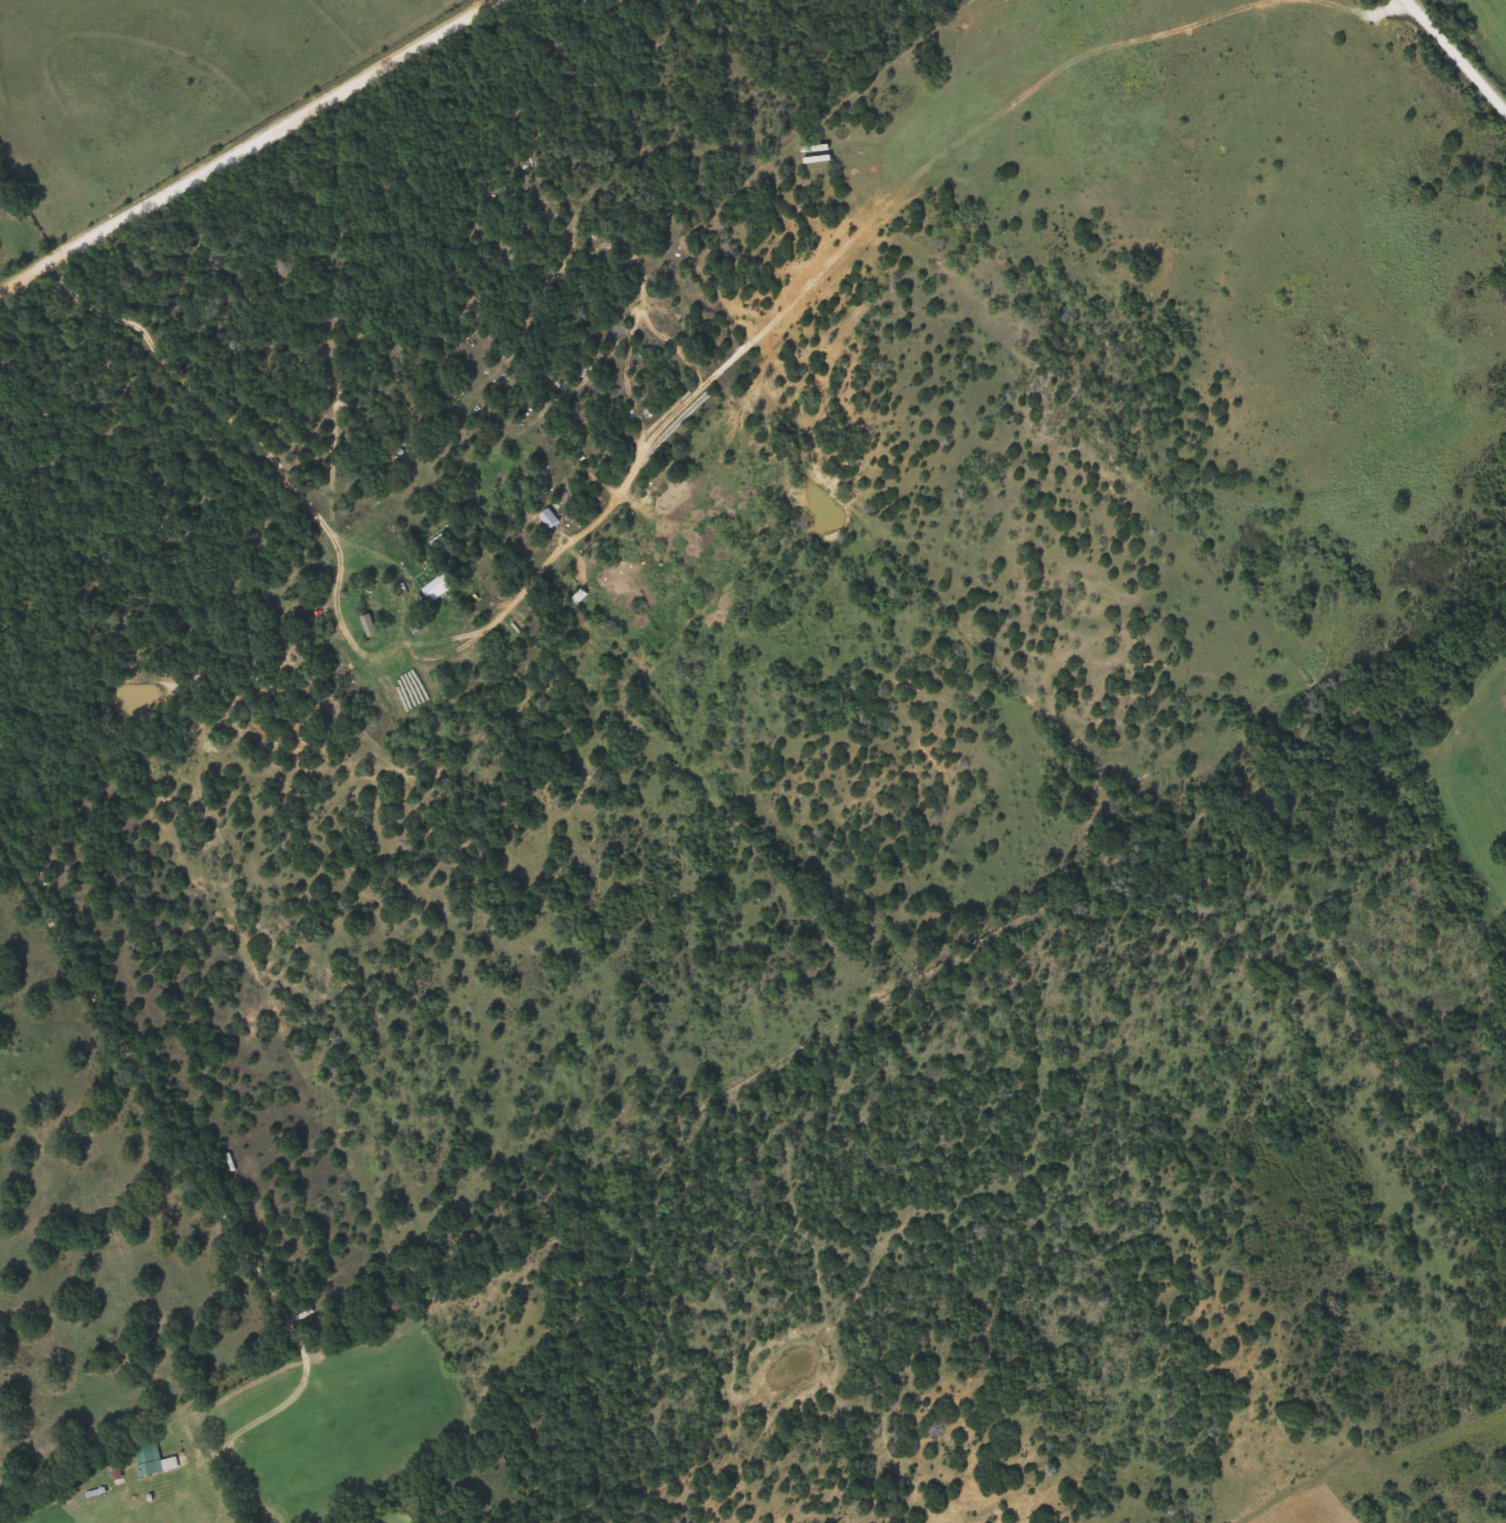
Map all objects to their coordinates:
road: (1457, 55)
road: (251, 149)
building: (355, 520)
building: (550, 520)
building: (439, 588)
road: (445, 649)
road: (181, 1158)
building: (154, 1461)

